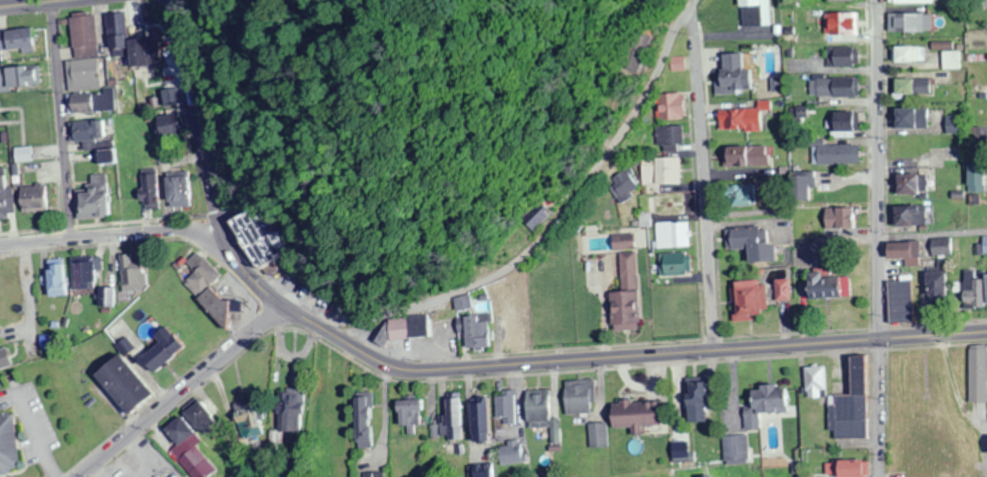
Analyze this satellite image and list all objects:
road: (168, 0)
building: (843, 1)
building: (916, 1)
road: (28, 3)
building: (789, 4)
building: (751, 14)
building: (905, 24)
building: (841, 25)
building: (115, 37)
building: (17, 41)
building: (144, 53)
building: (908, 57)
building: (840, 58)
building: (948, 58)
building: (84, 72)
building: (733, 76)
building: (17, 80)
building: (910, 88)
building: (836, 89)
building: (673, 109)
road: (191, 115)
road: (51, 120)
building: (740, 120)
building: (913, 120)
building: (843, 125)
building: (168, 126)
building: (954, 126)
building: (664, 140)
building: (975, 141)
building: (94, 142)
building: (917, 151)
building: (21, 156)
building: (833, 156)
building: (745, 158)
building: (661, 173)
building: (978, 180)
road: (700, 182)
building: (911, 186)
building: (178, 191)
building: (145, 193)
building: (4, 196)
building: (739, 197)
building: (32, 199)
building: (92, 200)
building: (666, 207)
building: (911, 219)
building: (841, 220)
road: (548, 229)
road: (108, 233)
road: (930, 234)
building: (668, 236)
road: (873, 238)
building: (261, 239)
building: (753, 244)
building: (984, 245)
building: (822, 246)
building: (942, 247)
building: (905, 252)
building: (673, 265)
building: (85, 274)
building: (130, 276)
building: (58, 278)
building: (833, 286)
building: (942, 287)
building: (973, 290)
building: (784, 291)
building: (208, 292)
building: (627, 295)
building: (750, 302)
building: (902, 302)
building: (473, 327)
building: (413, 328)
building: (530, 330)
building: (166, 352)
building: (5, 360)
road: (575, 361)
building: (979, 374)
building: (133, 383)
building: (817, 383)
road: (177, 391)
building: (581, 398)
building: (701, 402)
building: (771, 403)
building: (856, 404)
building: (509, 408)
building: (545, 411)
building: (293, 414)
building: (413, 415)
building: (641, 415)
building: (452, 418)
building: (485, 421)
building: (367, 422)
building: (197, 425)
building: (600, 436)
building: (275, 444)
building: (10, 445)
building: (739, 449)
building: (515, 454)
building: (849, 469)
building: (488, 472)
building: (375, 475)
building: (180, 476)

